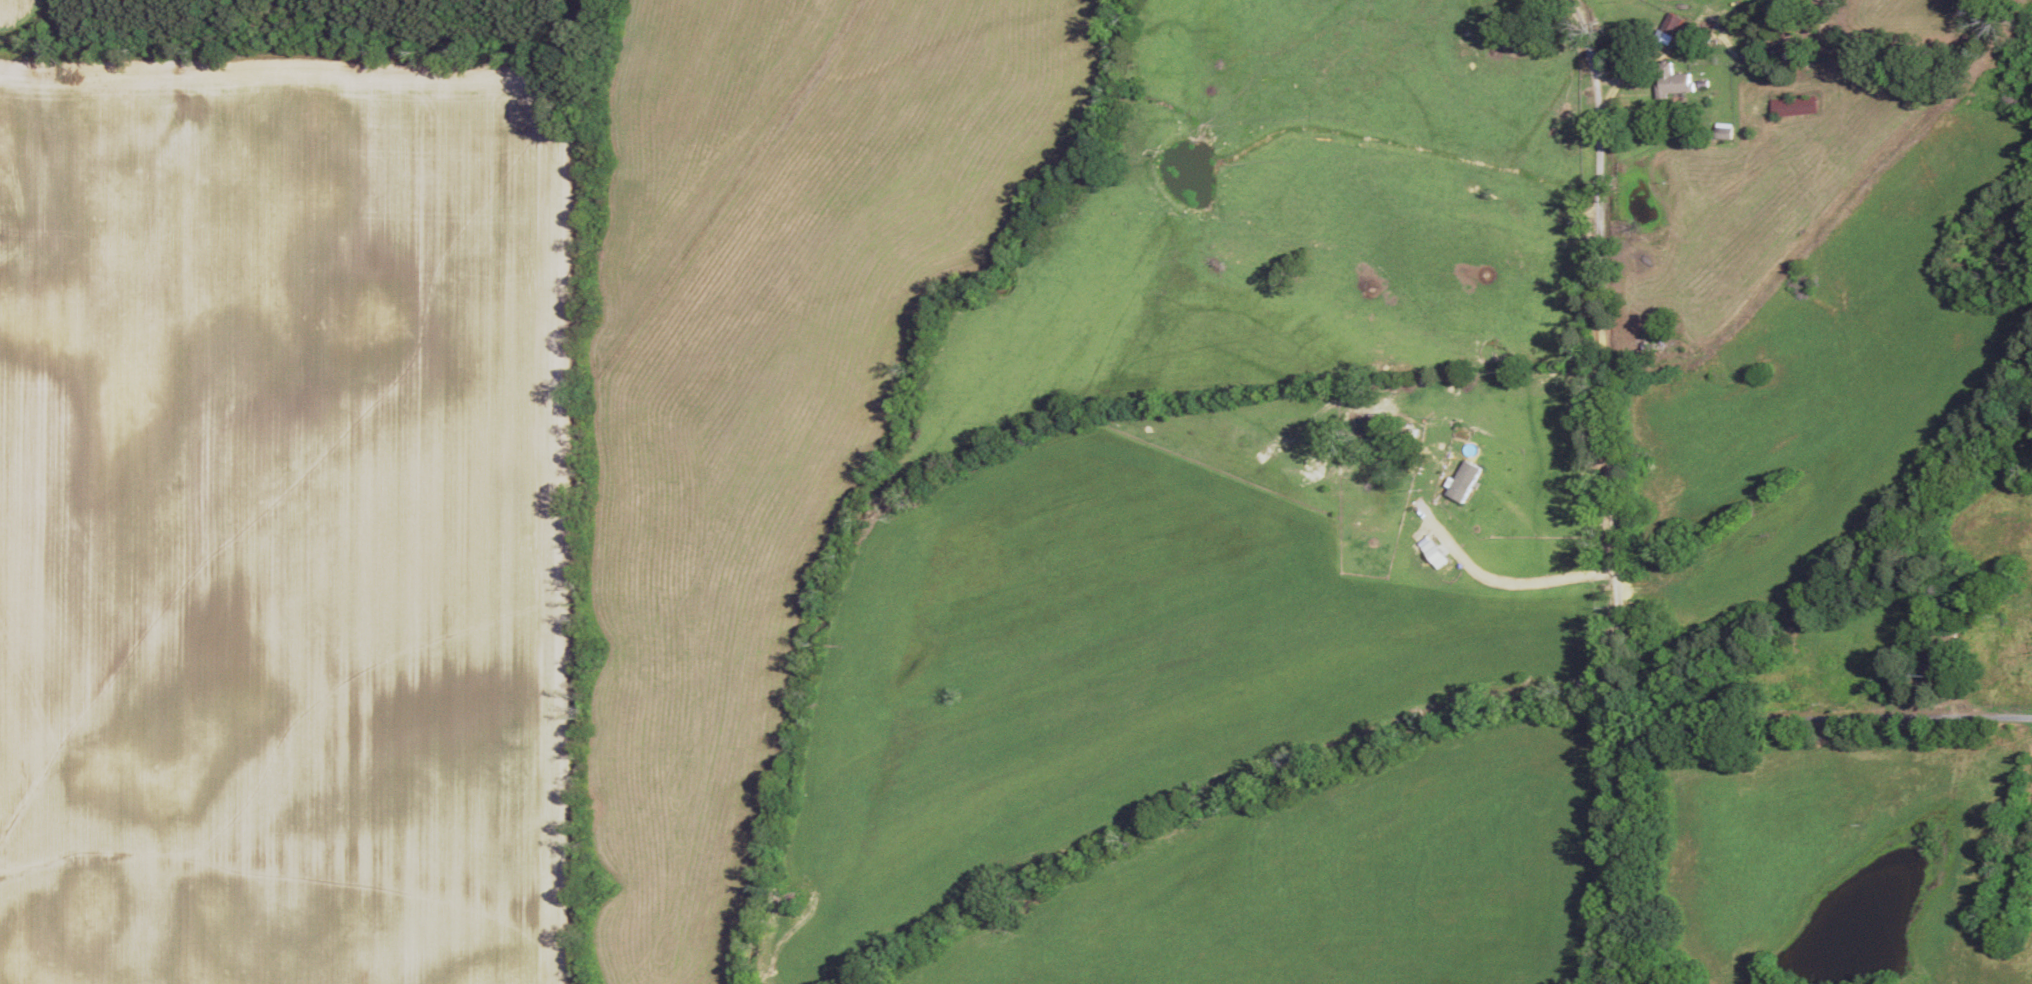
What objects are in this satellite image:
building: (1750, 56)
building: (1668, 82)
building: (1789, 107)
road: (1629, 486)
building: (2014, 603)
road: (1840, 733)
building: (2017, 832)
building: (1999, 911)

